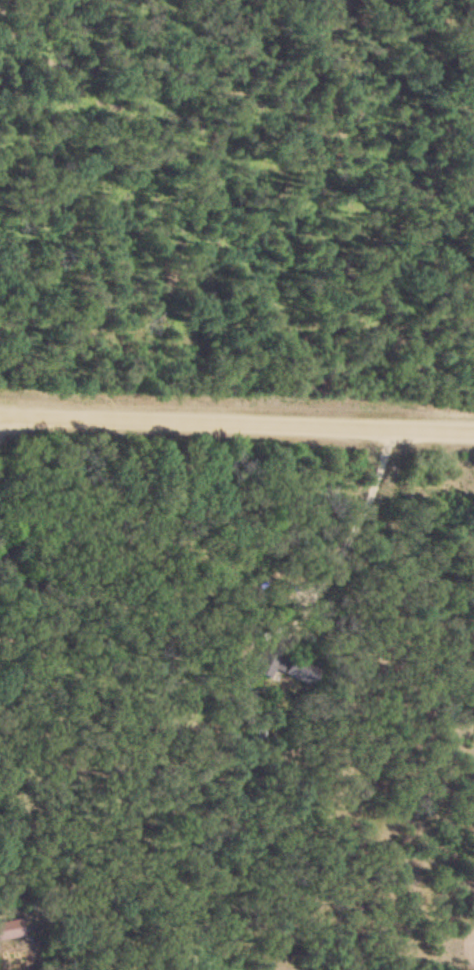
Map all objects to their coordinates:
road: (237, 416)
road: (4, 417)
road: (349, 528)
building: (282, 665)

